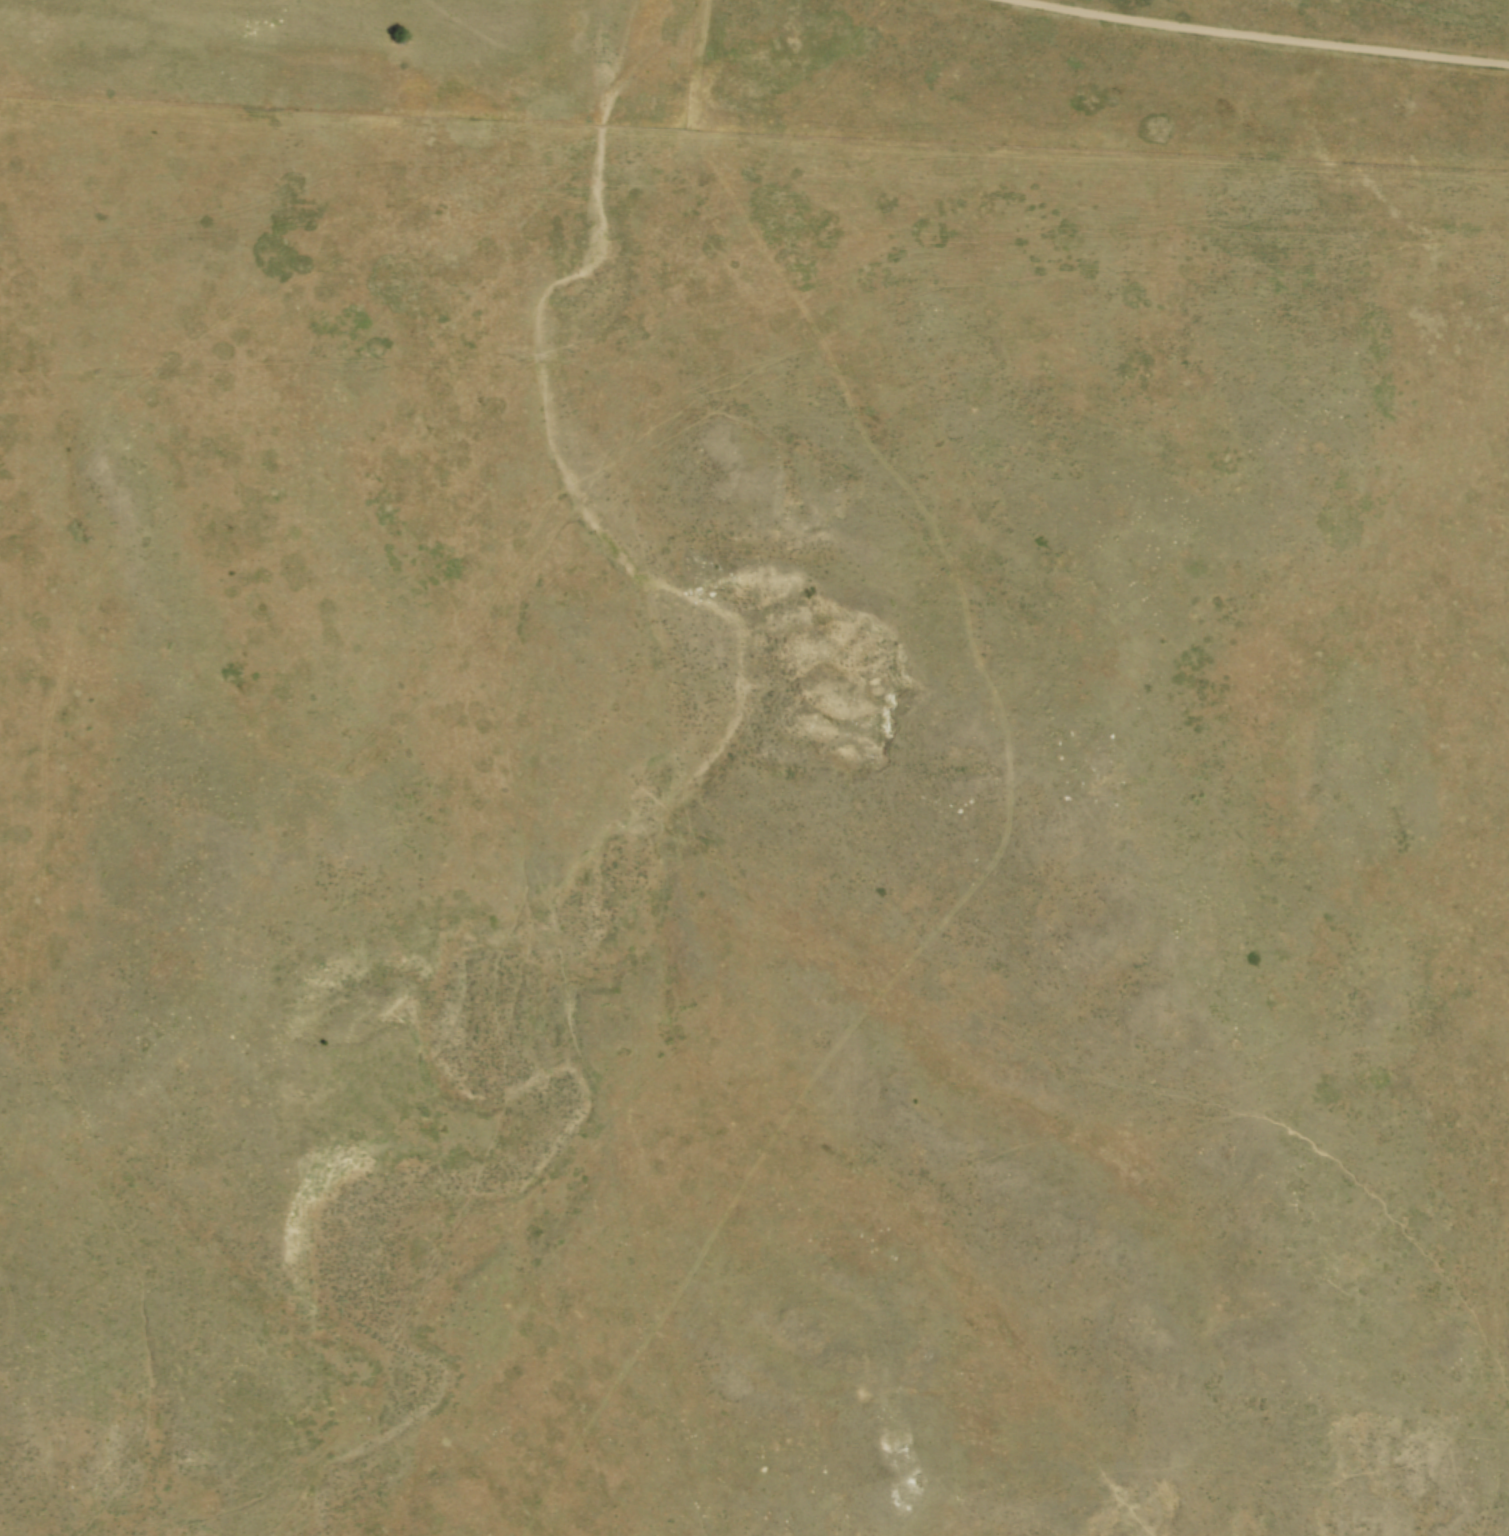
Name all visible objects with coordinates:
road: (1267, 34)

